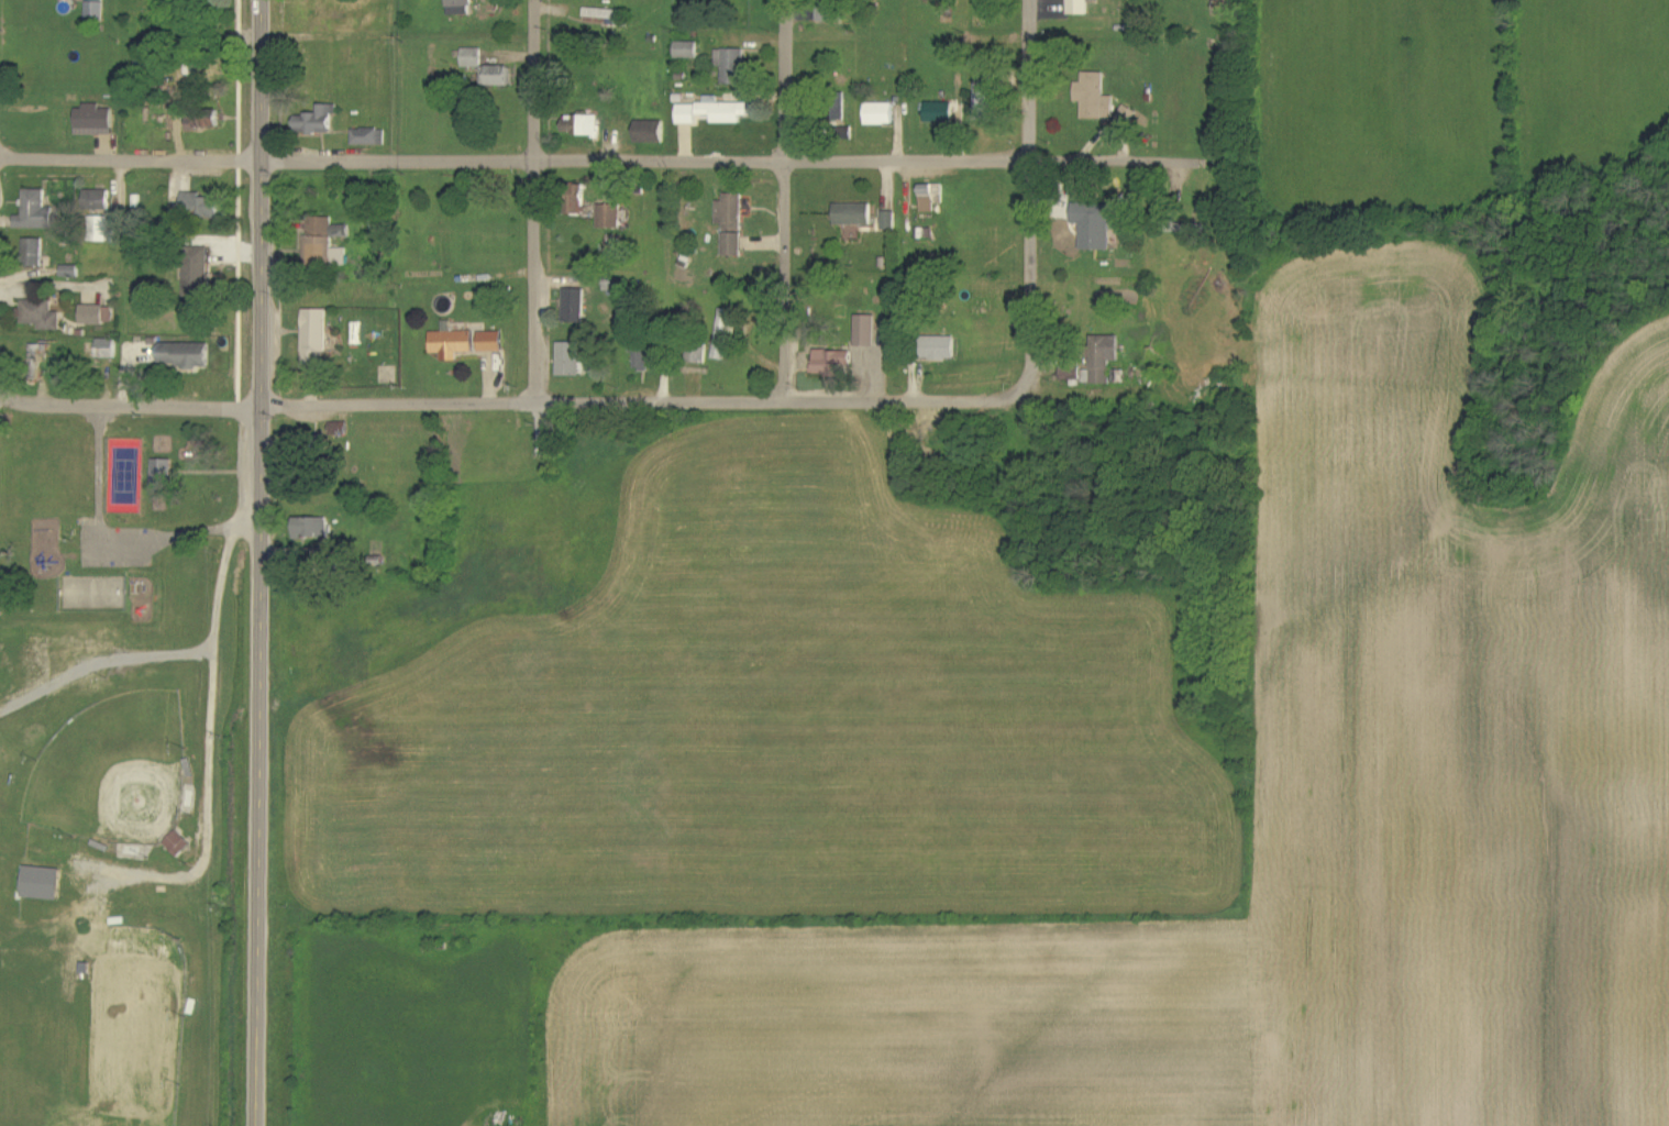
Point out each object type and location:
building: (461, 8)
building: (1079, 8)
building: (96, 9)
building: (834, 11)
building: (687, 51)
building: (473, 58)
building: (732, 66)
building: (497, 77)
building: (986, 98)
building: (1095, 98)
building: (940, 112)
building: (712, 113)
building: (881, 114)
building: (1128, 117)
building: (206, 120)
building: (95, 121)
building: (318, 121)
building: (583, 125)
building: (651, 132)
building: (369, 137)
road: (123, 157)
road: (763, 157)
road: (1028, 192)
building: (931, 198)
building: (579, 199)
road: (785, 199)
building: (98, 200)
road: (540, 200)
building: (202, 207)
building: (35, 212)
building: (854, 216)
building: (610, 217)
building: (889, 221)
building: (731, 224)
building: (1095, 225)
building: (99, 229)
building: (342, 231)
building: (320, 240)
building: (35, 253)
building: (198, 269)
building: (575, 306)
building: (41, 316)
building: (97, 316)
building: (866, 331)
building: (722, 335)
building: (316, 338)
building: (491, 342)
building: (452, 344)
building: (941, 349)
building: (107, 350)
building: (186, 355)
building: (698, 355)
building: (570, 360)
building: (1103, 360)
building: (35, 363)
building: (833, 363)
building: (1072, 375)
road: (705, 400)
road: (124, 409)
building: (339, 429)
building: (163, 475)
building: (313, 529)
road: (117, 532)
road: (252, 562)
road: (206, 763)
building: (178, 844)
building: (43, 884)
park: (95, 1020)

